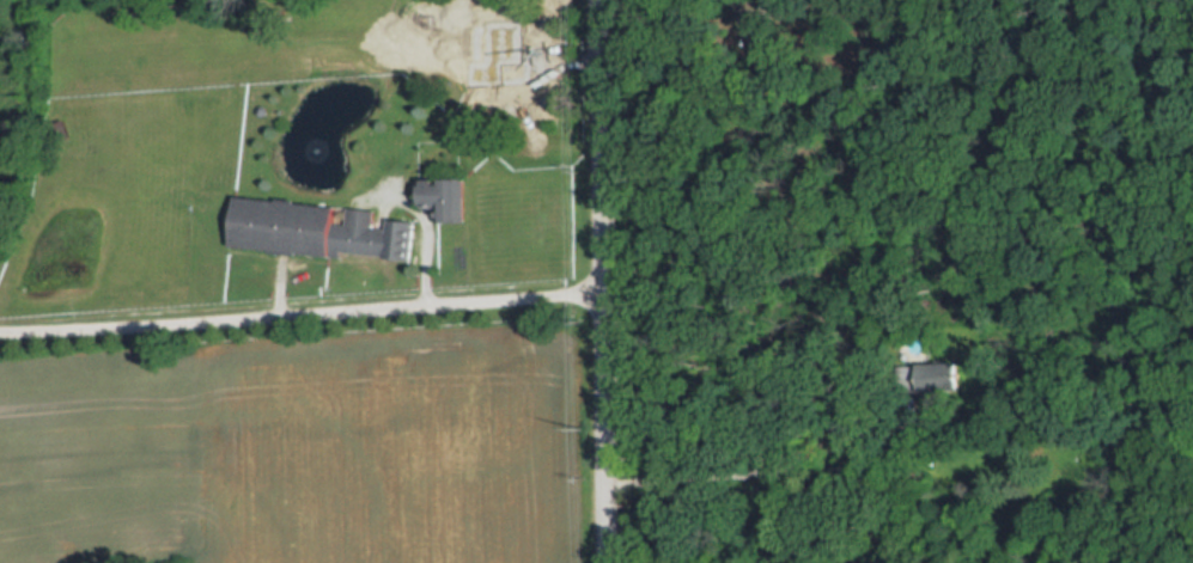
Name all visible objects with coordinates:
road: (629, 1)
road: (747, 2)
building: (538, 99)
building: (448, 198)
road: (428, 225)
building: (321, 231)
road: (595, 281)
road: (298, 312)
road: (759, 472)

